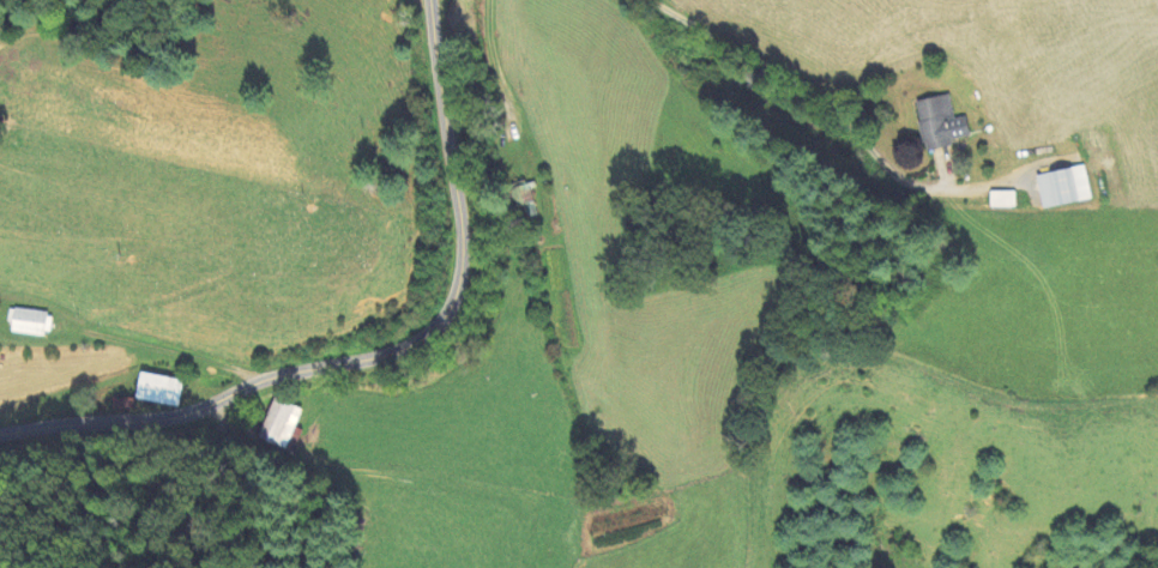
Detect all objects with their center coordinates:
road: (493, 62)
road: (803, 85)
building: (939, 123)
building: (1063, 188)
building: (523, 195)
building: (1002, 200)
building: (30, 322)
road: (382, 352)
building: (158, 389)
building: (122, 405)
building: (279, 424)

